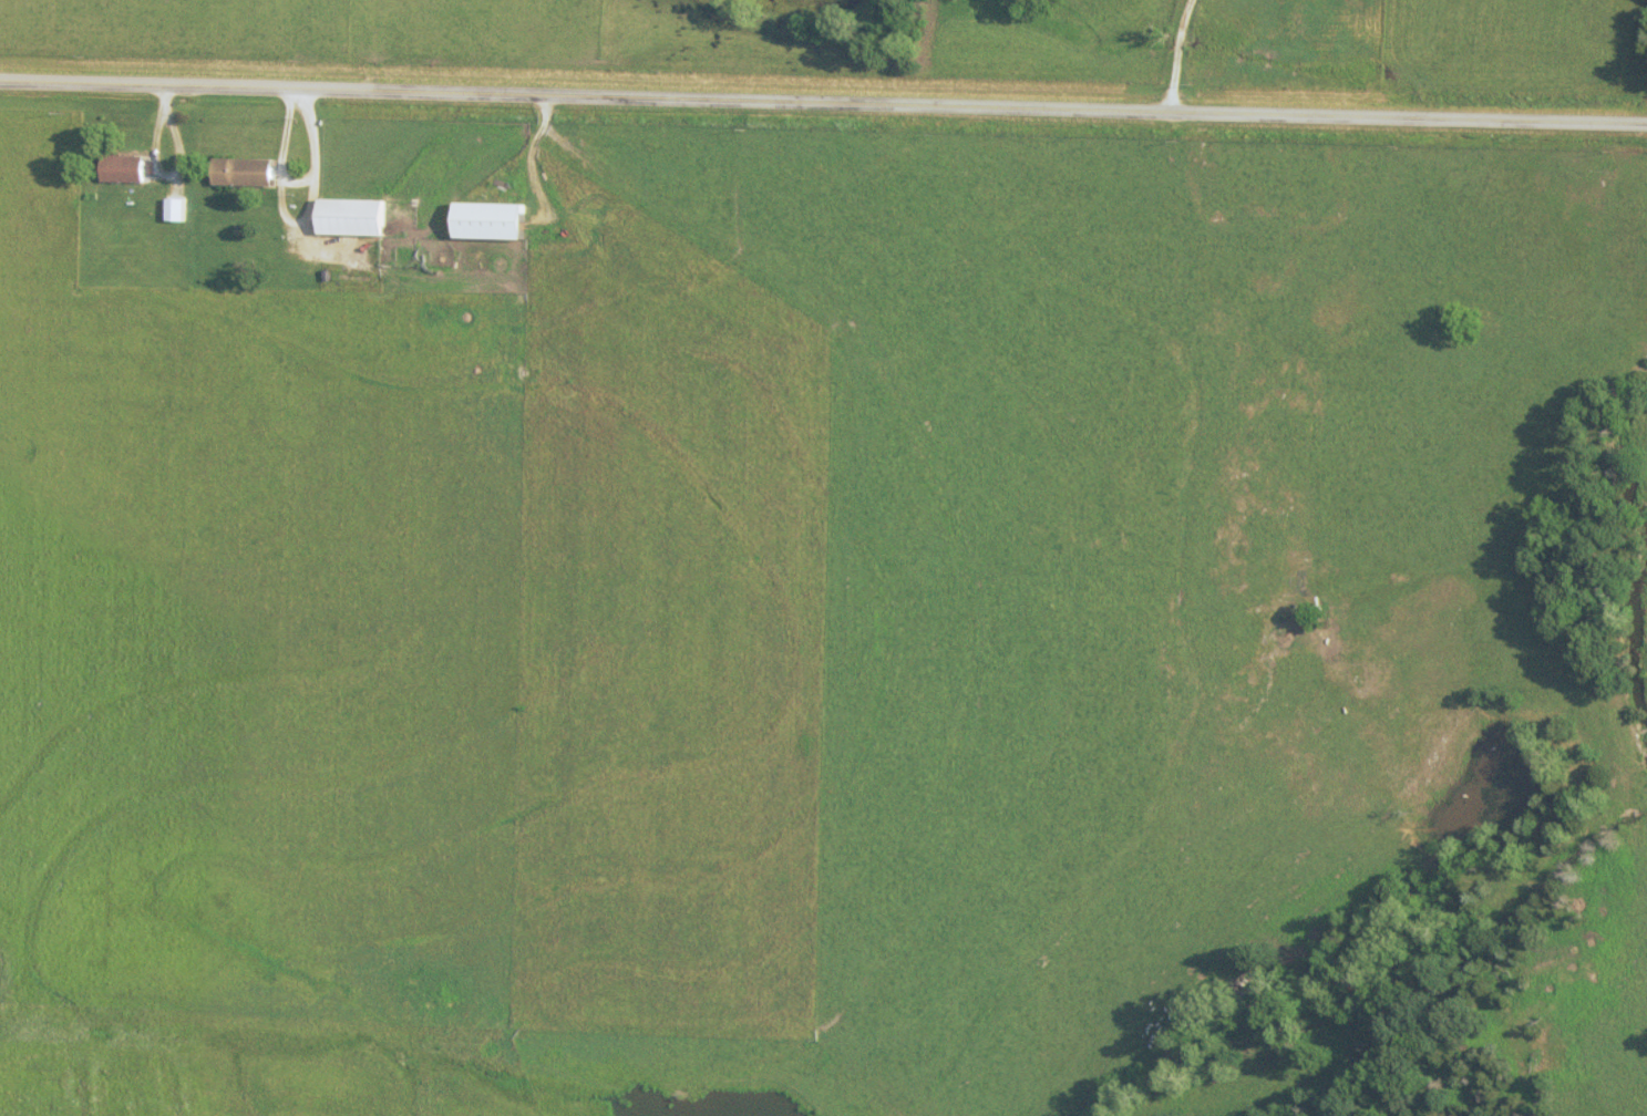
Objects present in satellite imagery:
road: (1188, 55)
road: (823, 104)
road: (534, 162)
building: (127, 167)
building: (247, 170)
road: (302, 186)
building: (178, 208)
building: (356, 216)
building: (498, 219)

